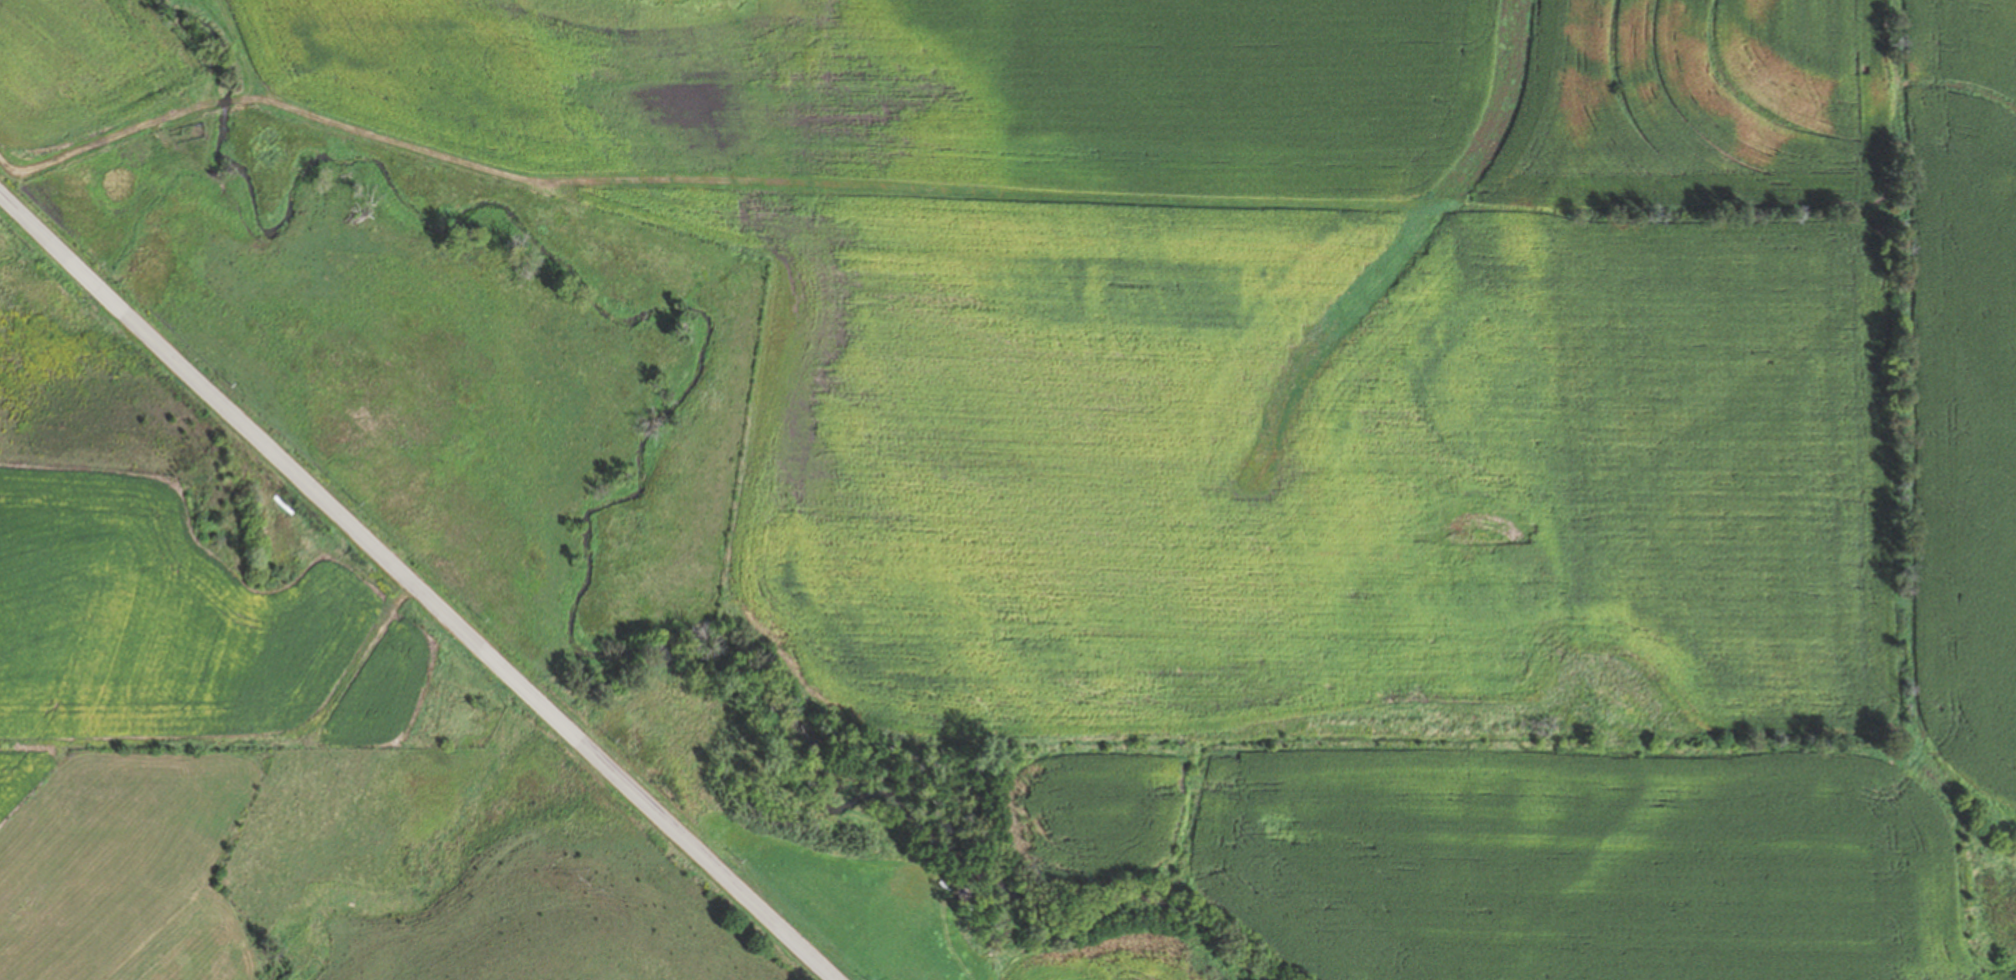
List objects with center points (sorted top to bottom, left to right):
road: (758, 184)
road: (419, 589)
road: (325, 702)

